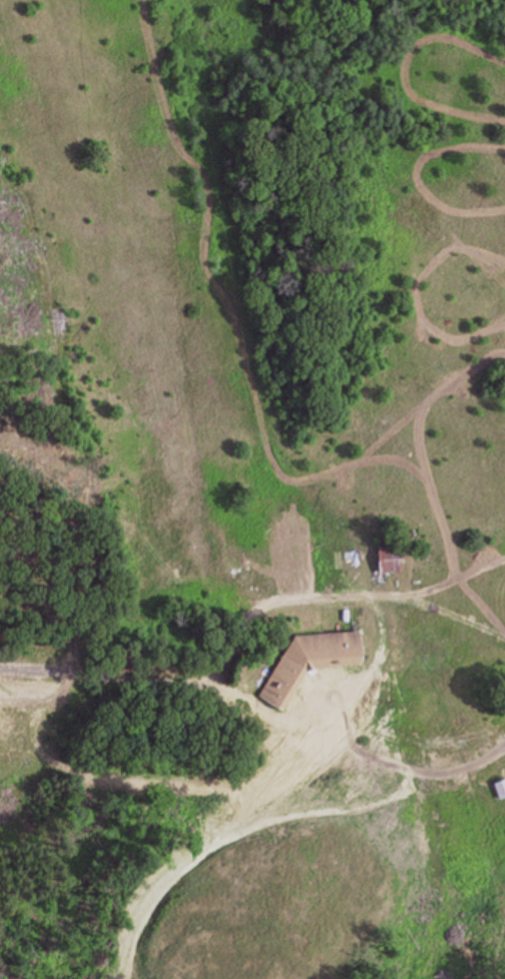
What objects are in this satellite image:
building: (316, 660)
road: (27, 678)
parking lot: (54, 737)

